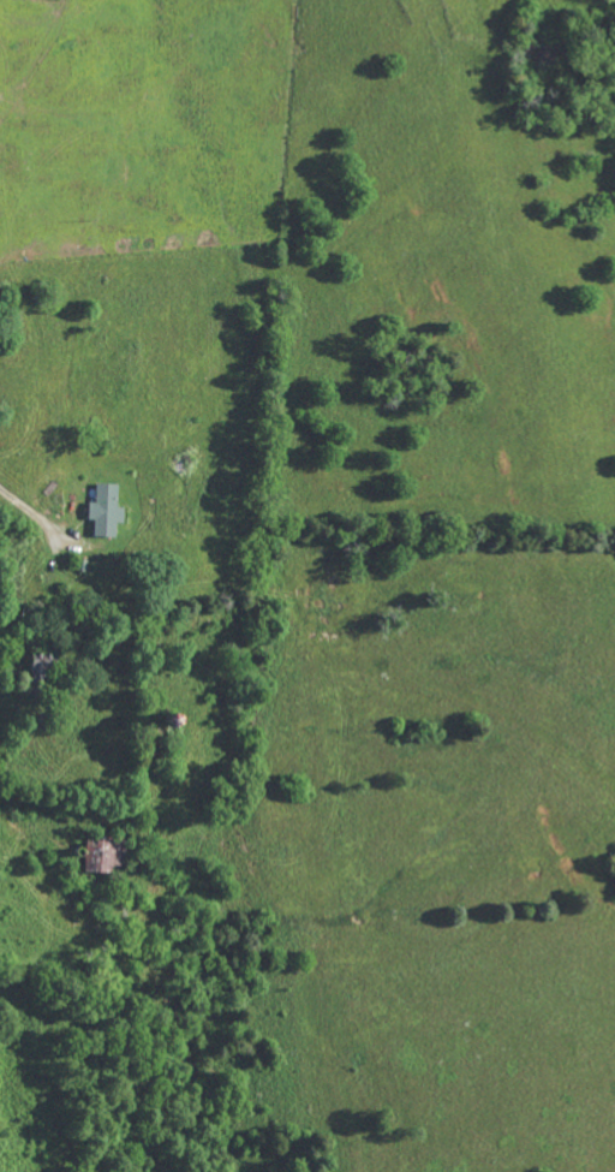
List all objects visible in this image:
road: (29, 511)
building: (107, 511)

